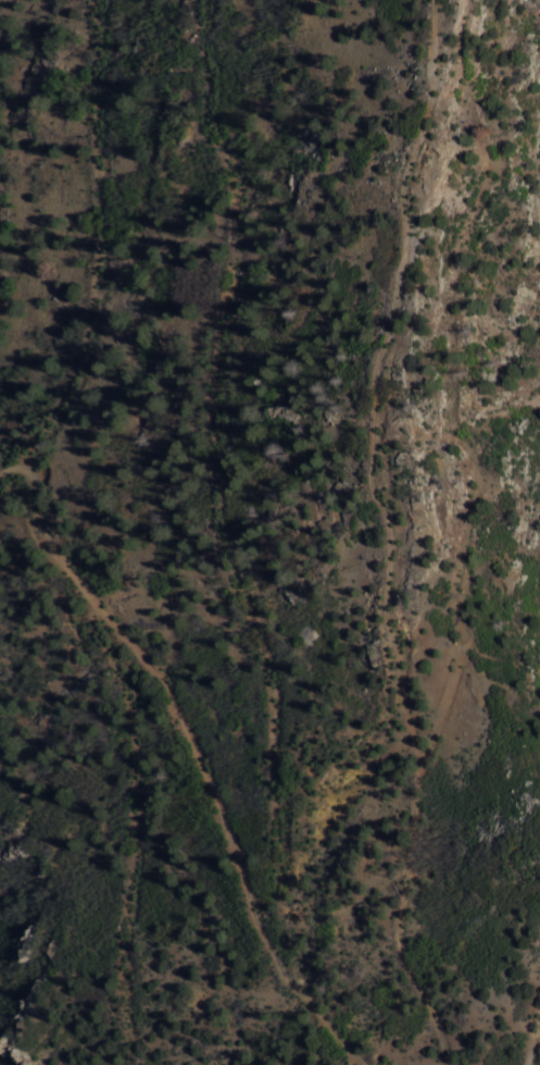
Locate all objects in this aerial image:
road: (400, 531)
road: (203, 753)

